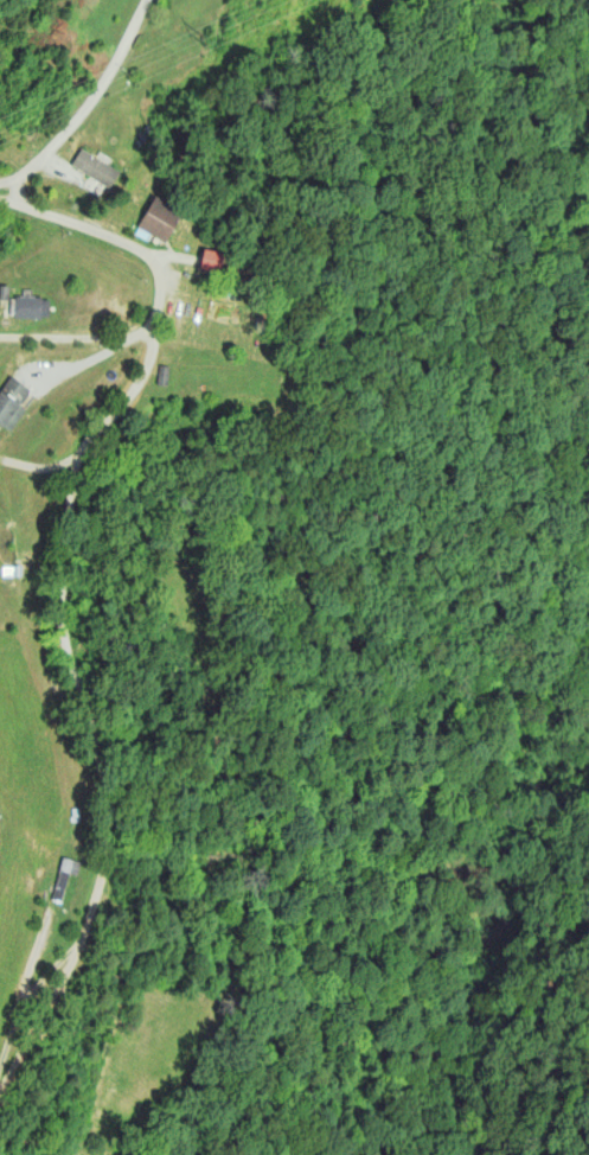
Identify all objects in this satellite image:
road: (81, 107)
building: (94, 167)
road: (8, 183)
building: (158, 218)
building: (210, 259)
building: (26, 306)
road: (77, 337)
building: (161, 374)
building: (11, 401)
road: (78, 596)
building: (63, 875)

